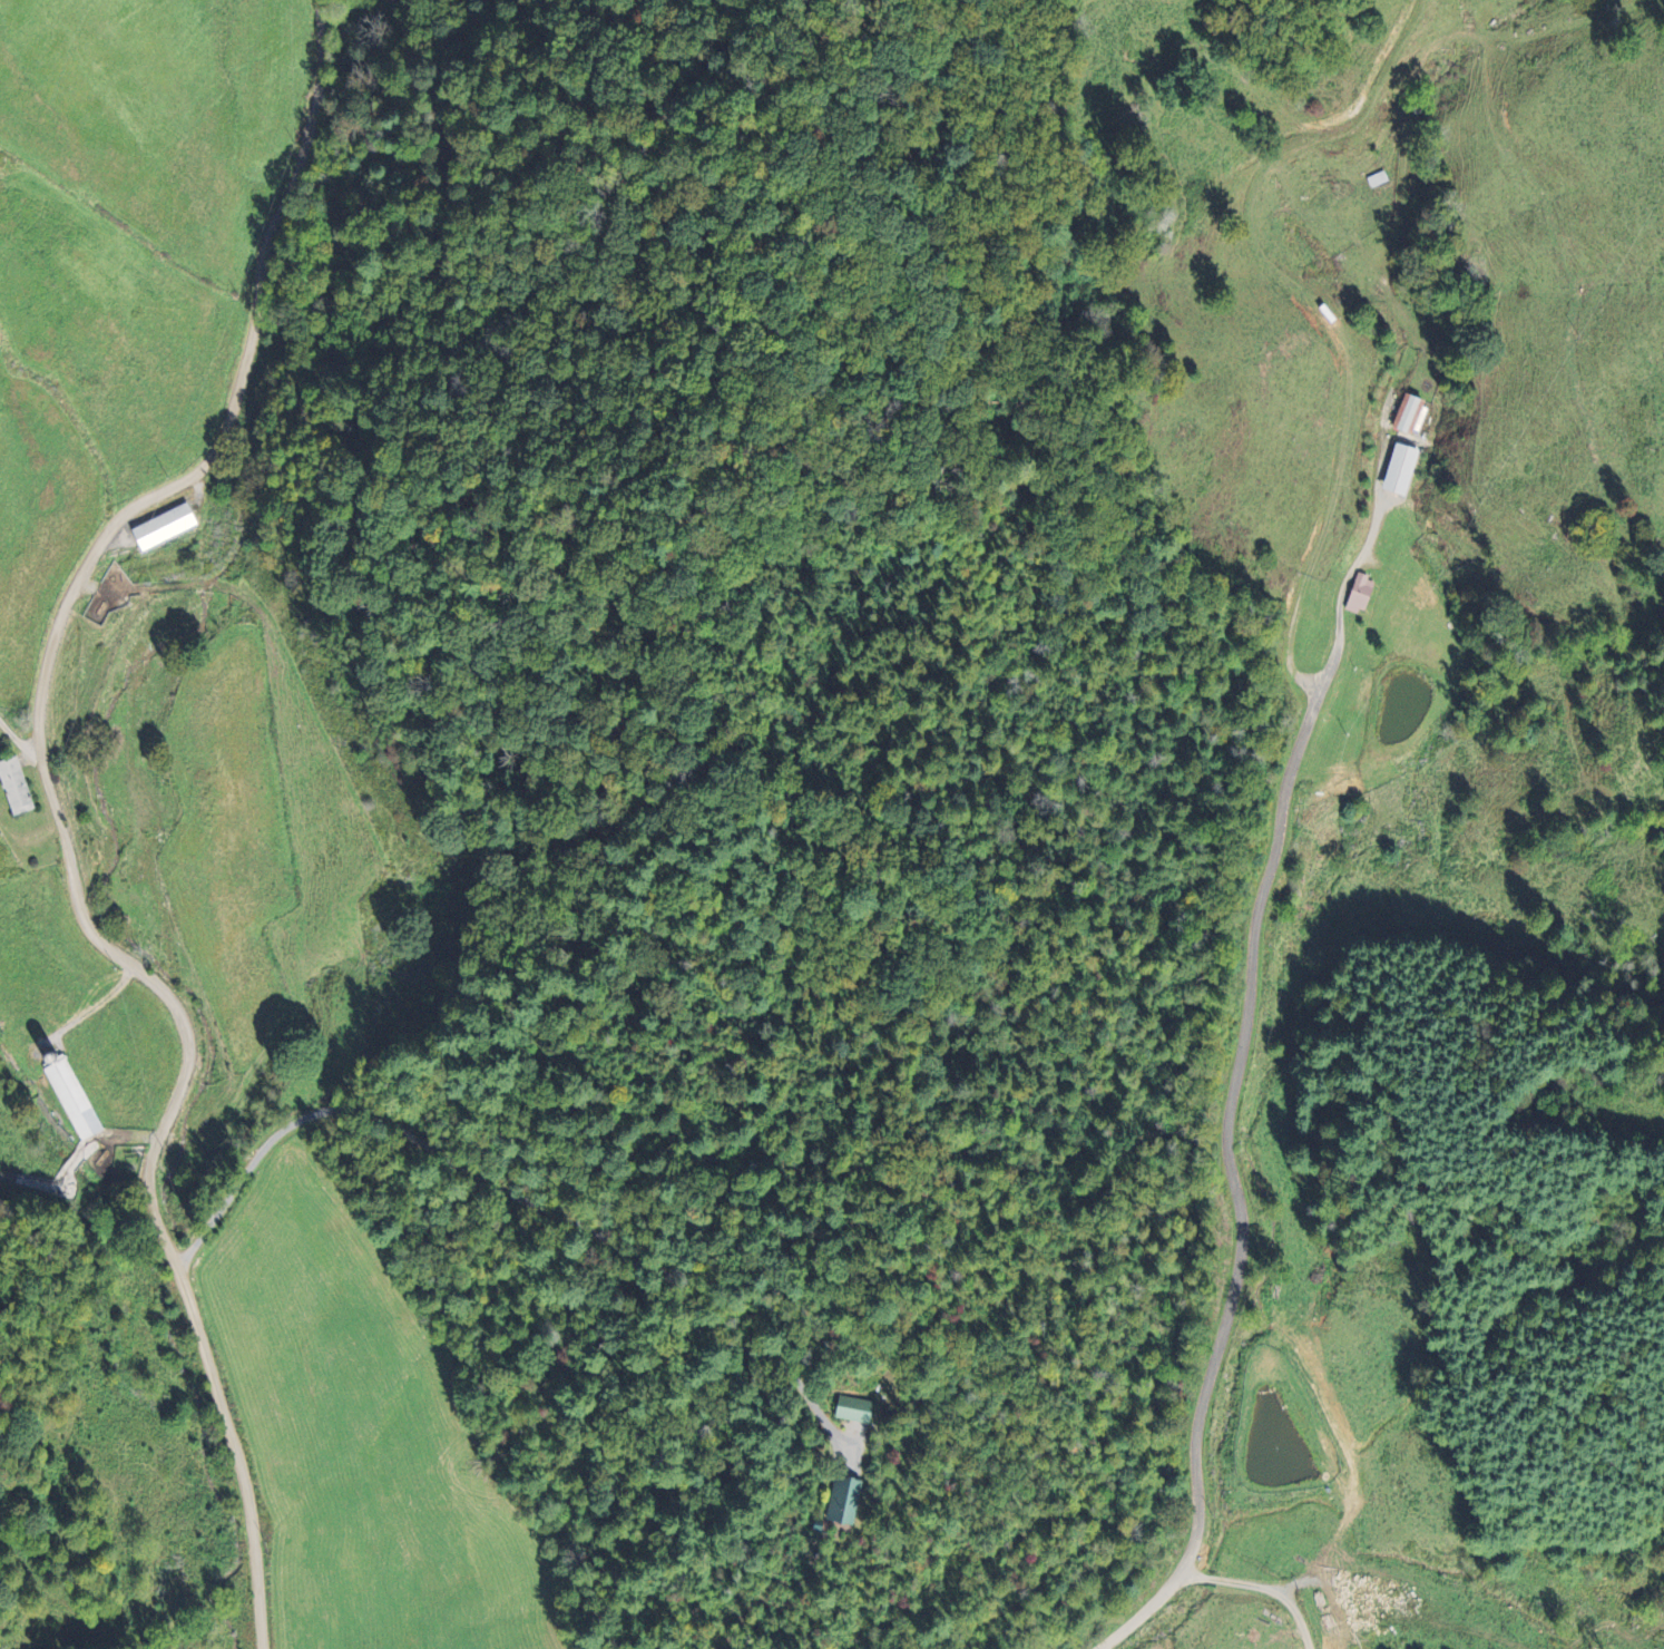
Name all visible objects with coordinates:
building: (1410, 416)
building: (1399, 469)
building: (161, 527)
road: (1364, 549)
building: (1359, 594)
road: (18, 739)
building: (13, 787)
road: (60, 816)
building: (71, 1100)
road: (1233, 1183)
building: (852, 1409)
building: (843, 1501)
road: (1263, 1585)

